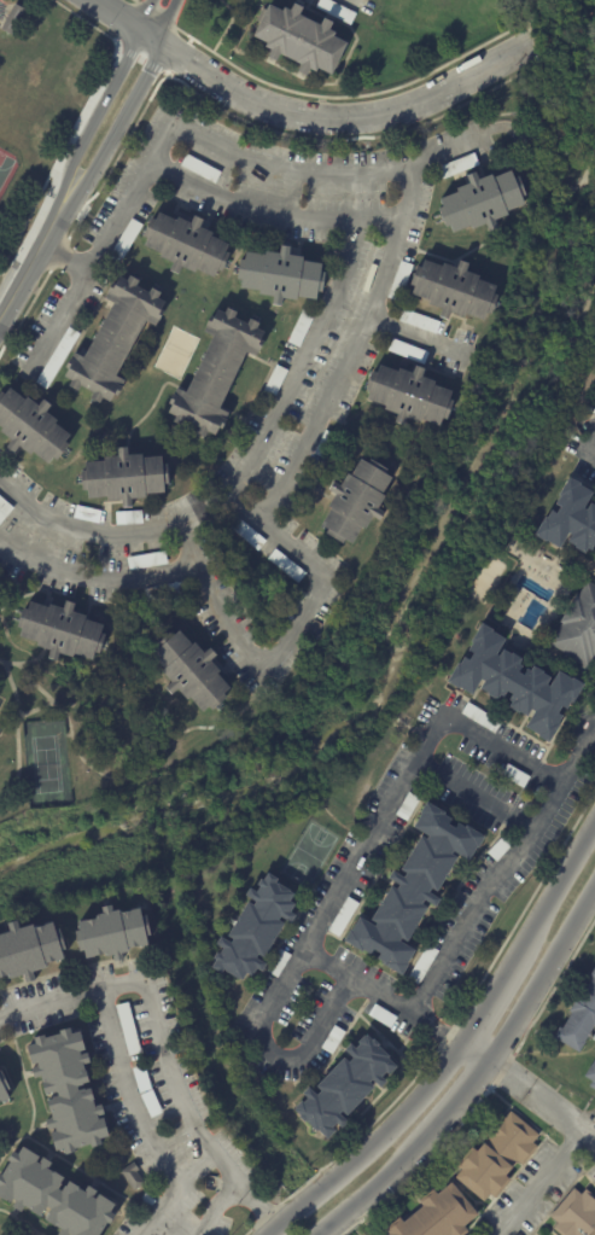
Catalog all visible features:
road: (354, 1)
building: (334, 10)
road: (111, 17)
road: (144, 17)
building: (12, 18)
road: (87, 22)
road: (165, 23)
road: (531, 23)
road: (227, 24)
road: (173, 25)
building: (298, 39)
road: (148, 41)
road: (224, 46)
road: (323, 85)
road: (362, 95)
road: (93, 113)
road: (345, 116)
road: (116, 127)
road: (193, 128)
building: (527, 138)
road: (59, 158)
building: (456, 165)
park: (5, 167)
building: (199, 168)
building: (480, 200)
road: (30, 210)
road: (272, 210)
building: (126, 238)
building: (185, 244)
road: (65, 254)
road: (31, 256)
building: (280, 274)
building: (398, 280)
building: (453, 289)
building: (418, 321)
building: (299, 325)
building: (112, 338)
road: (350, 349)
building: (407, 350)
park: (176, 353)
building: (57, 357)
building: (214, 372)
building: (272, 385)
building: (408, 395)
road: (150, 408)
building: (31, 426)
building: (325, 444)
road: (588, 448)
road: (238, 471)
building: (124, 477)
building: (354, 500)
building: (5, 506)
building: (87, 514)
building: (1, 515)
building: (128, 515)
building: (570, 519)
building: (246, 532)
building: (145, 559)
building: (285, 565)
road: (97, 577)
building: (163, 592)
building: (313, 629)
building: (578, 629)
building: (60, 630)
road: (286, 637)
road: (10, 645)
road: (27, 663)
building: (189, 670)
building: (513, 683)
road: (35, 710)
building: (479, 717)
road: (17, 729)
park: (46, 764)
road: (140, 771)
building: (514, 775)
road: (474, 796)
building: (406, 806)
building: (500, 846)
park: (308, 855)
road: (501, 869)
road: (348, 878)
road: (560, 886)
building: (413, 887)
building: (342, 917)
building: (253, 928)
building: (113, 932)
building: (28, 950)
building: (278, 962)
building: (421, 963)
road: (544, 977)
road: (495, 995)
building: (380, 1015)
building: (579, 1016)
building: (128, 1029)
road: (450, 1037)
building: (332, 1039)
road: (161, 1052)
building: (590, 1073)
building: (140, 1078)
building: (344, 1087)
building: (68, 1091)
building: (2, 1095)
road: (461, 1099)
building: (150, 1105)
road: (412, 1108)
road: (139, 1120)
road: (590, 1140)
building: (494, 1155)
building: (179, 1157)
road: (408, 1158)
building: (130, 1175)
road: (542, 1186)
road: (315, 1194)
building: (52, 1199)
building: (144, 1202)
road: (256, 1207)
road: (354, 1207)
building: (436, 1214)
building: (574, 1214)
road: (273, 1229)

